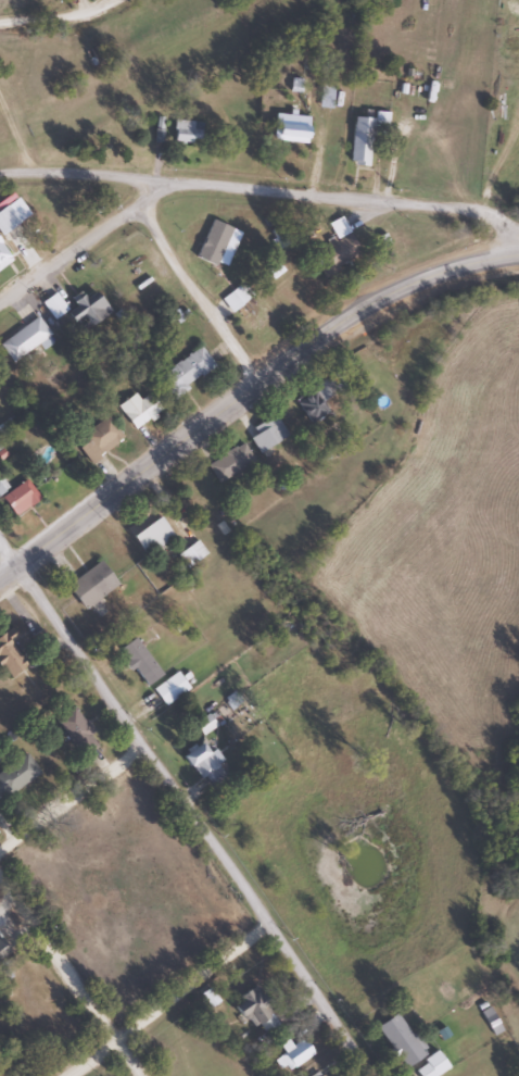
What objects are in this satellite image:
road: (58, 14)
railway: (145, 63)
building: (325, 95)
building: (380, 123)
building: (289, 127)
building: (187, 130)
building: (359, 141)
road: (273, 189)
road: (89, 241)
building: (2, 254)
building: (334, 254)
road: (515, 255)
road: (199, 293)
road: (376, 301)
building: (86, 308)
building: (249, 315)
building: (24, 339)
building: (185, 372)
building: (316, 398)
building: (137, 409)
building: (266, 434)
building: (98, 439)
building: (229, 463)
road: (127, 477)
building: (2, 487)
building: (18, 498)
building: (150, 536)
building: (191, 553)
building: (90, 585)
building: (8, 654)
building: (139, 662)
building: (169, 689)
building: (204, 725)
building: (76, 731)
building: (203, 766)
building: (16, 775)
road: (71, 801)
road: (188, 811)
building: (3, 949)
road: (72, 977)
road: (169, 1000)
building: (254, 1010)
building: (489, 1022)
building: (398, 1040)
building: (291, 1056)
building: (429, 1066)
building: (324, 1075)

